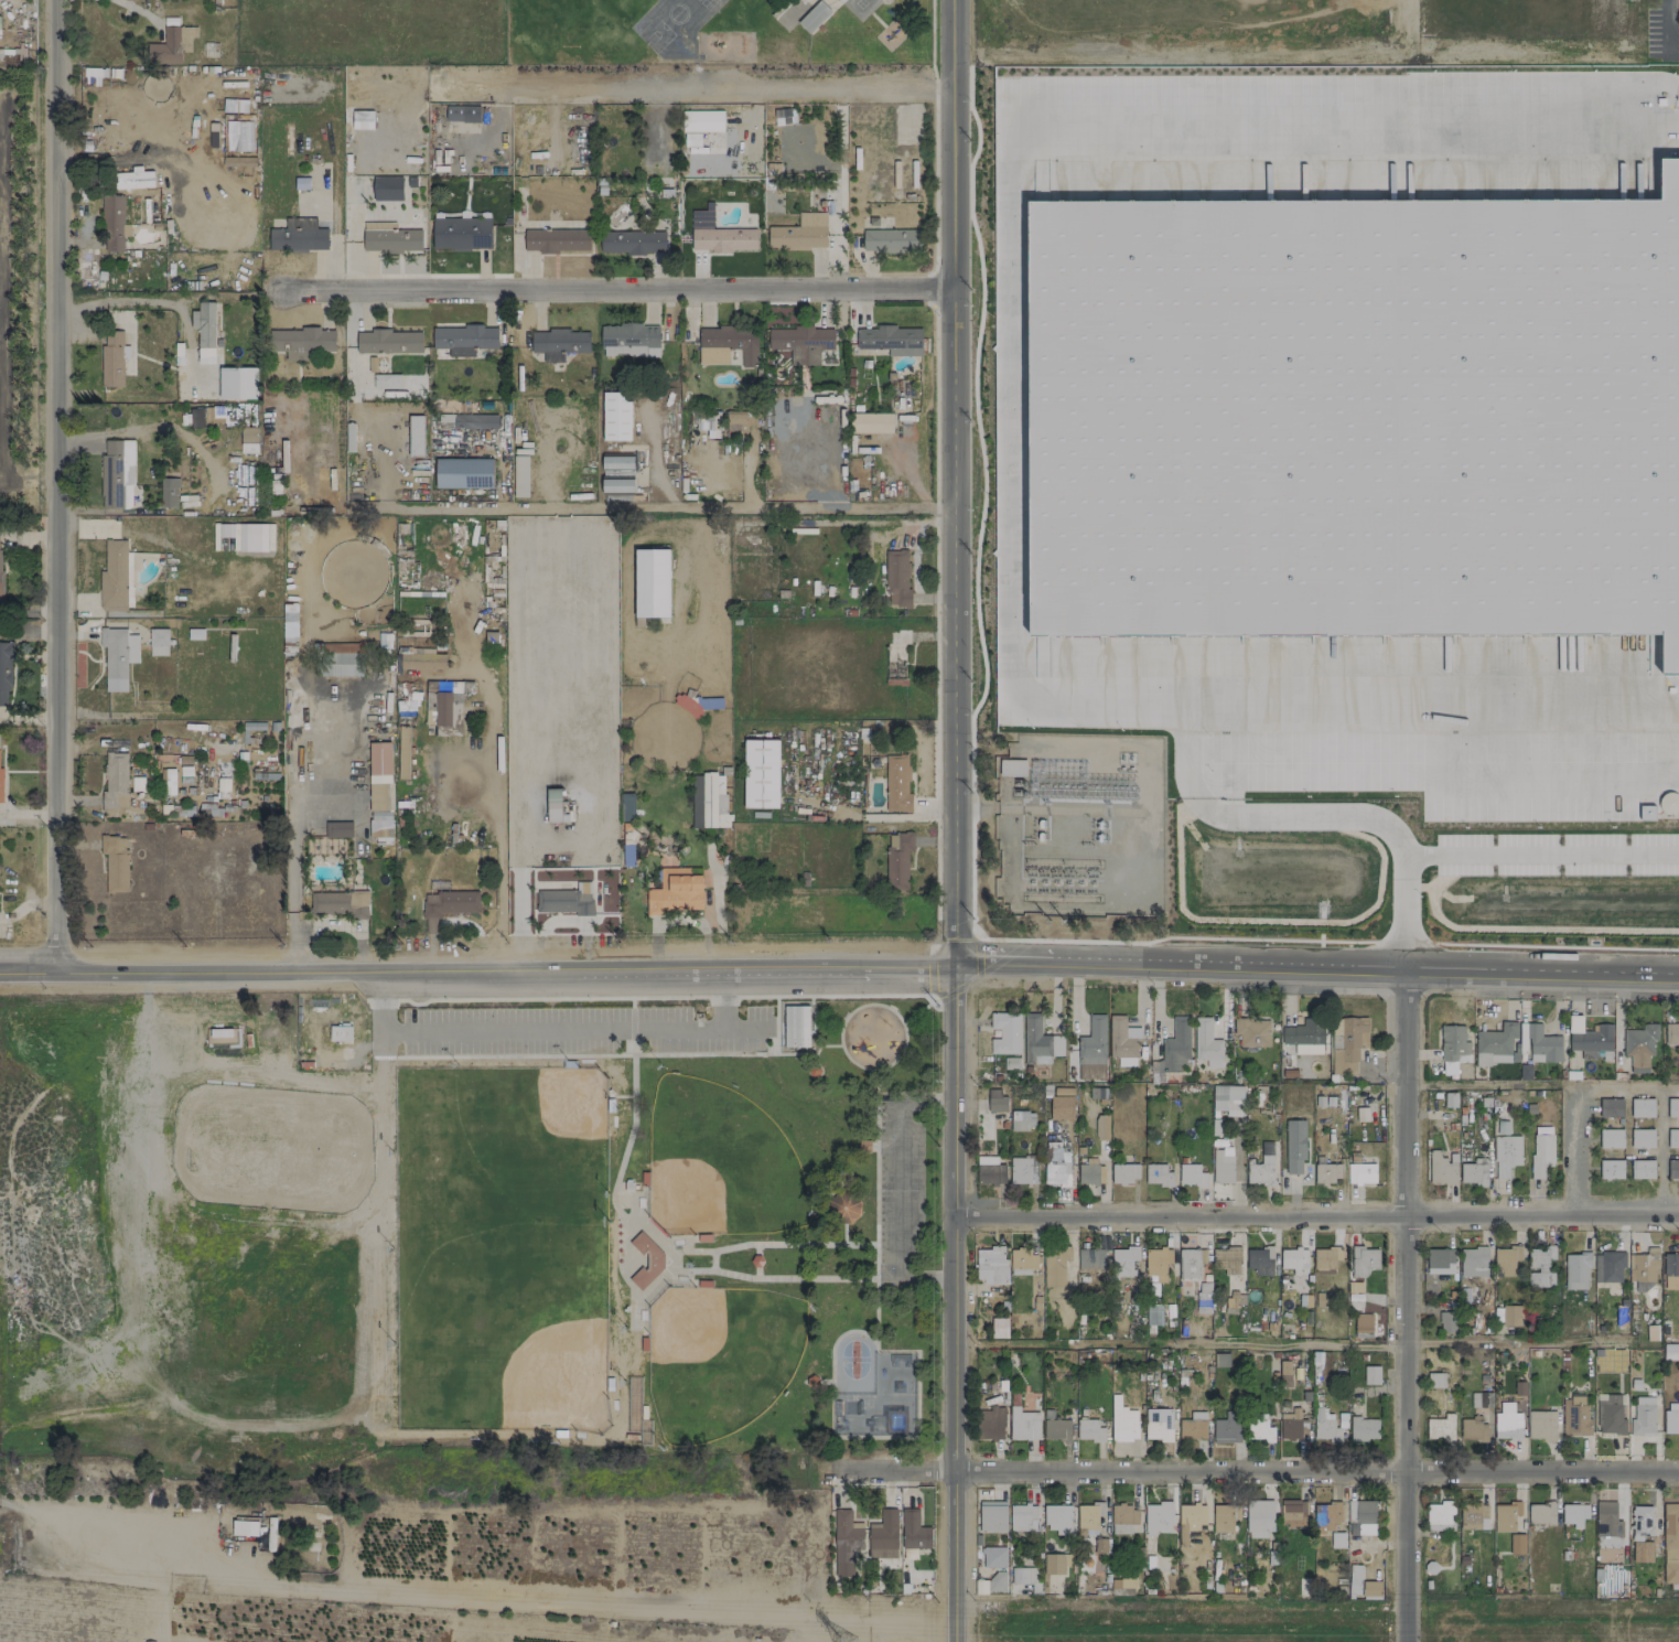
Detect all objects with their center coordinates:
building: (807, 0)
building: (833, 3)
road: (138, 10)
road: (1399, 13)
building: (812, 17)
building: (0, 32)
building: (171, 45)
road: (699, 89)
building: (462, 114)
building: (783, 116)
building: (362, 119)
building: (701, 120)
building: (692, 139)
building: (387, 187)
building: (112, 223)
building: (799, 233)
building: (461, 234)
building: (719, 235)
building: (299, 236)
building: (390, 238)
building: (557, 240)
building: (891, 240)
building: (632, 242)
road: (620, 292)
building: (204, 331)
building: (464, 339)
building: (629, 340)
building: (891, 340)
building: (388, 341)
building: (301, 342)
building: (731, 342)
building: (558, 343)
building: (801, 343)
building: (111, 358)
building: (386, 380)
building: (237, 383)
road: (1010, 401)
building: (217, 411)
building: (616, 416)
building: (1356, 416)
building: (196, 418)
building: (734, 419)
building: (467, 421)
building: (871, 422)
road: (154, 429)
building: (416, 434)
building: (248, 440)
building: (616, 462)
building: (463, 473)
building: (116, 474)
building: (519, 476)
road: (58, 483)
building: (617, 485)
building: (169, 492)
road: (657, 507)
building: (252, 537)
building: (0, 566)
building: (114, 575)
building: (896, 579)
building: (652, 582)
road: (29, 632)
building: (158, 642)
building: (117, 656)
building: (420, 661)
building: (341, 662)
building: (4, 674)
building: (446, 711)
road: (29, 719)
building: (403, 752)
road: (486, 760)
building: (1012, 768)
building: (761, 773)
building: (379, 775)
building: (115, 780)
building: (169, 781)
building: (897, 784)
building: (0, 786)
building: (708, 801)
building: (553, 805)
road: (1251, 813)
building: (380, 815)
road: (950, 820)
power substation: (1076, 823)
building: (337, 829)
building: (379, 830)
road: (1541, 856)
road: (292, 859)
building: (897, 860)
building: (115, 862)
building: (1471, 870)
building: (675, 892)
building: (566, 900)
building: (338, 903)
building: (446, 906)
road: (1402, 916)
road: (839, 976)
building: (795, 1026)
road: (553, 1031)
building: (1252, 1032)
building: (340, 1033)
building: (1004, 1033)
building: (1671, 1033)
building: (1305, 1037)
building: (1121, 1038)
building: (1589, 1038)
building: (1038, 1041)
building: (1519, 1043)
building: (1495, 1044)
building: (1206, 1045)
building: (1349, 1045)
building: (1542, 1045)
building: (1639, 1047)
building: (1174, 1048)
building: (1453, 1048)
building: (1091, 1050)
building: (1010, 1062)
road: (1492, 1084)
road: (1668, 1085)
building: (1228, 1099)
building: (997, 1104)
building: (1061, 1107)
building: (1611, 1107)
building: (1642, 1107)
building: (1672, 1107)
road: (1571, 1115)
building: (1022, 1119)
building: (1101, 1127)
building: (1611, 1138)
building: (1642, 1138)
building: (1672, 1138)
building: (1294, 1146)
road: (1660, 1152)
building: (1541, 1153)
building: (1506, 1155)
building: (1056, 1165)
building: (1221, 1165)
building: (1261, 1167)
building: (1442, 1168)
building: (1611, 1169)
building: (1643, 1169)
building: (1672, 1169)
building: (989, 1170)
building: (1022, 1170)
building: (1089, 1172)
building: (1123, 1172)
building: (1326, 1172)
building: (1474, 1172)
building: (1360, 1173)
building: (1158, 1174)
building: (1191, 1174)
road: (898, 1190)
building: (846, 1205)
road: (1315, 1217)
park: (460, 1233)
building: (1293, 1258)
building: (1227, 1259)
building: (1325, 1259)
building: (657, 1260)
building: (1022, 1260)
building: (1123, 1260)
building: (1259, 1260)
building: (1363, 1260)
building: (1440, 1260)
building: (1506, 1260)
building: (1089, 1262)
building: (1473, 1262)
building: (992, 1263)
building: (1190, 1263)
building: (1156, 1264)
building: (1540, 1266)
building: (1608, 1266)
building: (1643, 1266)
building: (1054, 1270)
building: (1576, 1270)
building: (1670, 1270)
building: (1203, 1297)
building: (1231, 1299)
road: (1404, 1309)
building: (1153, 1314)
building: (1511, 1314)
building: (1447, 1322)
building: (1363, 1326)
building: (1651, 1332)
road: (1518, 1342)
road: (1178, 1344)
building: (1670, 1351)
building: (1221, 1360)
building: (1284, 1372)
building: (1371, 1374)
building: (1435, 1380)
building: (1519, 1388)
park: (881, 1398)
building: (1481, 1399)
building: (1574, 1416)
building: (1643, 1416)
building: (1671, 1417)
building: (1611, 1419)
building: (991, 1421)
building: (1122, 1421)
building: (1023, 1424)
building: (1158, 1424)
building: (1292, 1425)
building: (1507, 1425)
building: (1541, 1425)
building: (1193, 1426)
building: (1324, 1427)
building: (1227, 1428)
building: (1363, 1428)
building: (1441, 1428)
building: (1056, 1429)
building: (1261, 1429)
building: (1472, 1429)
building: (1089, 1430)
road: (1251, 1474)
building: (1540, 1513)
building: (1294, 1514)
building: (1573, 1514)
building: (1088, 1515)
building: (1326, 1515)
building: (1362, 1515)
building: (1440, 1515)
building: (992, 1516)
building: (1022, 1516)
building: (1224, 1516)
building: (1474, 1516)
building: (1505, 1516)
building: (1158, 1517)
building: (1191, 1517)
building: (1259, 1517)
building: (1057, 1518)
building: (1122, 1518)
building: (1606, 1520)
building: (1642, 1521)
building: (1670, 1524)
building: (244, 1527)
building: (914, 1531)
building: (883, 1535)
building: (1337, 1539)
building: (846, 1542)
building: (1517, 1544)
building: (1643, 1552)
building: (1670, 1556)
building: (993, 1557)
building: (1053, 1564)
building: (1670, 1573)
building: (1023, 1576)
building: (1354, 1579)
building: (997, 1580)
building: (1371, 1589)
road: (470, 1595)

